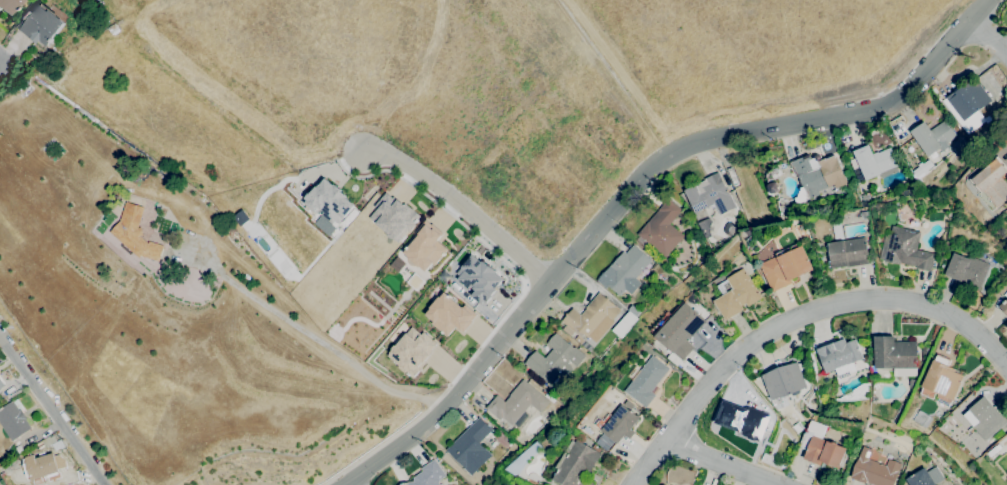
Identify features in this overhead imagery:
building: (7, 6)
building: (42, 25)
road: (988, 38)
road: (5, 61)
building: (968, 105)
building: (897, 125)
building: (933, 137)
building: (873, 163)
road: (337, 168)
building: (816, 175)
building: (993, 182)
road: (636, 185)
building: (710, 195)
building: (327, 202)
road: (460, 205)
building: (864, 215)
building: (392, 217)
building: (662, 229)
building: (837, 231)
building: (135, 234)
road: (567, 241)
building: (957, 247)
building: (424, 248)
building: (906, 249)
building: (847, 253)
building: (785, 267)
road: (537, 270)
building: (966, 270)
building: (624, 271)
building: (736, 294)
building: (1004, 306)
road: (509, 311)
building: (634, 311)
building: (448, 315)
road: (794, 318)
road: (281, 319)
building: (591, 319)
building: (624, 325)
building: (681, 332)
building: (410, 351)
building: (923, 352)
building: (894, 354)
building: (840, 357)
building: (555, 360)
building: (646, 381)
building: (784, 381)
building: (941, 381)
building: (1, 383)
building: (0, 389)
building: (15, 394)
building: (517, 403)
road: (51, 410)
building: (922, 418)
building: (985, 418)
building: (742, 420)
building: (13, 421)
building: (620, 424)
building: (789, 431)
building: (51, 443)
building: (471, 447)
building: (822, 448)
road: (720, 463)
building: (576, 464)
building: (41, 466)
building: (874, 470)
building: (428, 475)
building: (925, 477)

